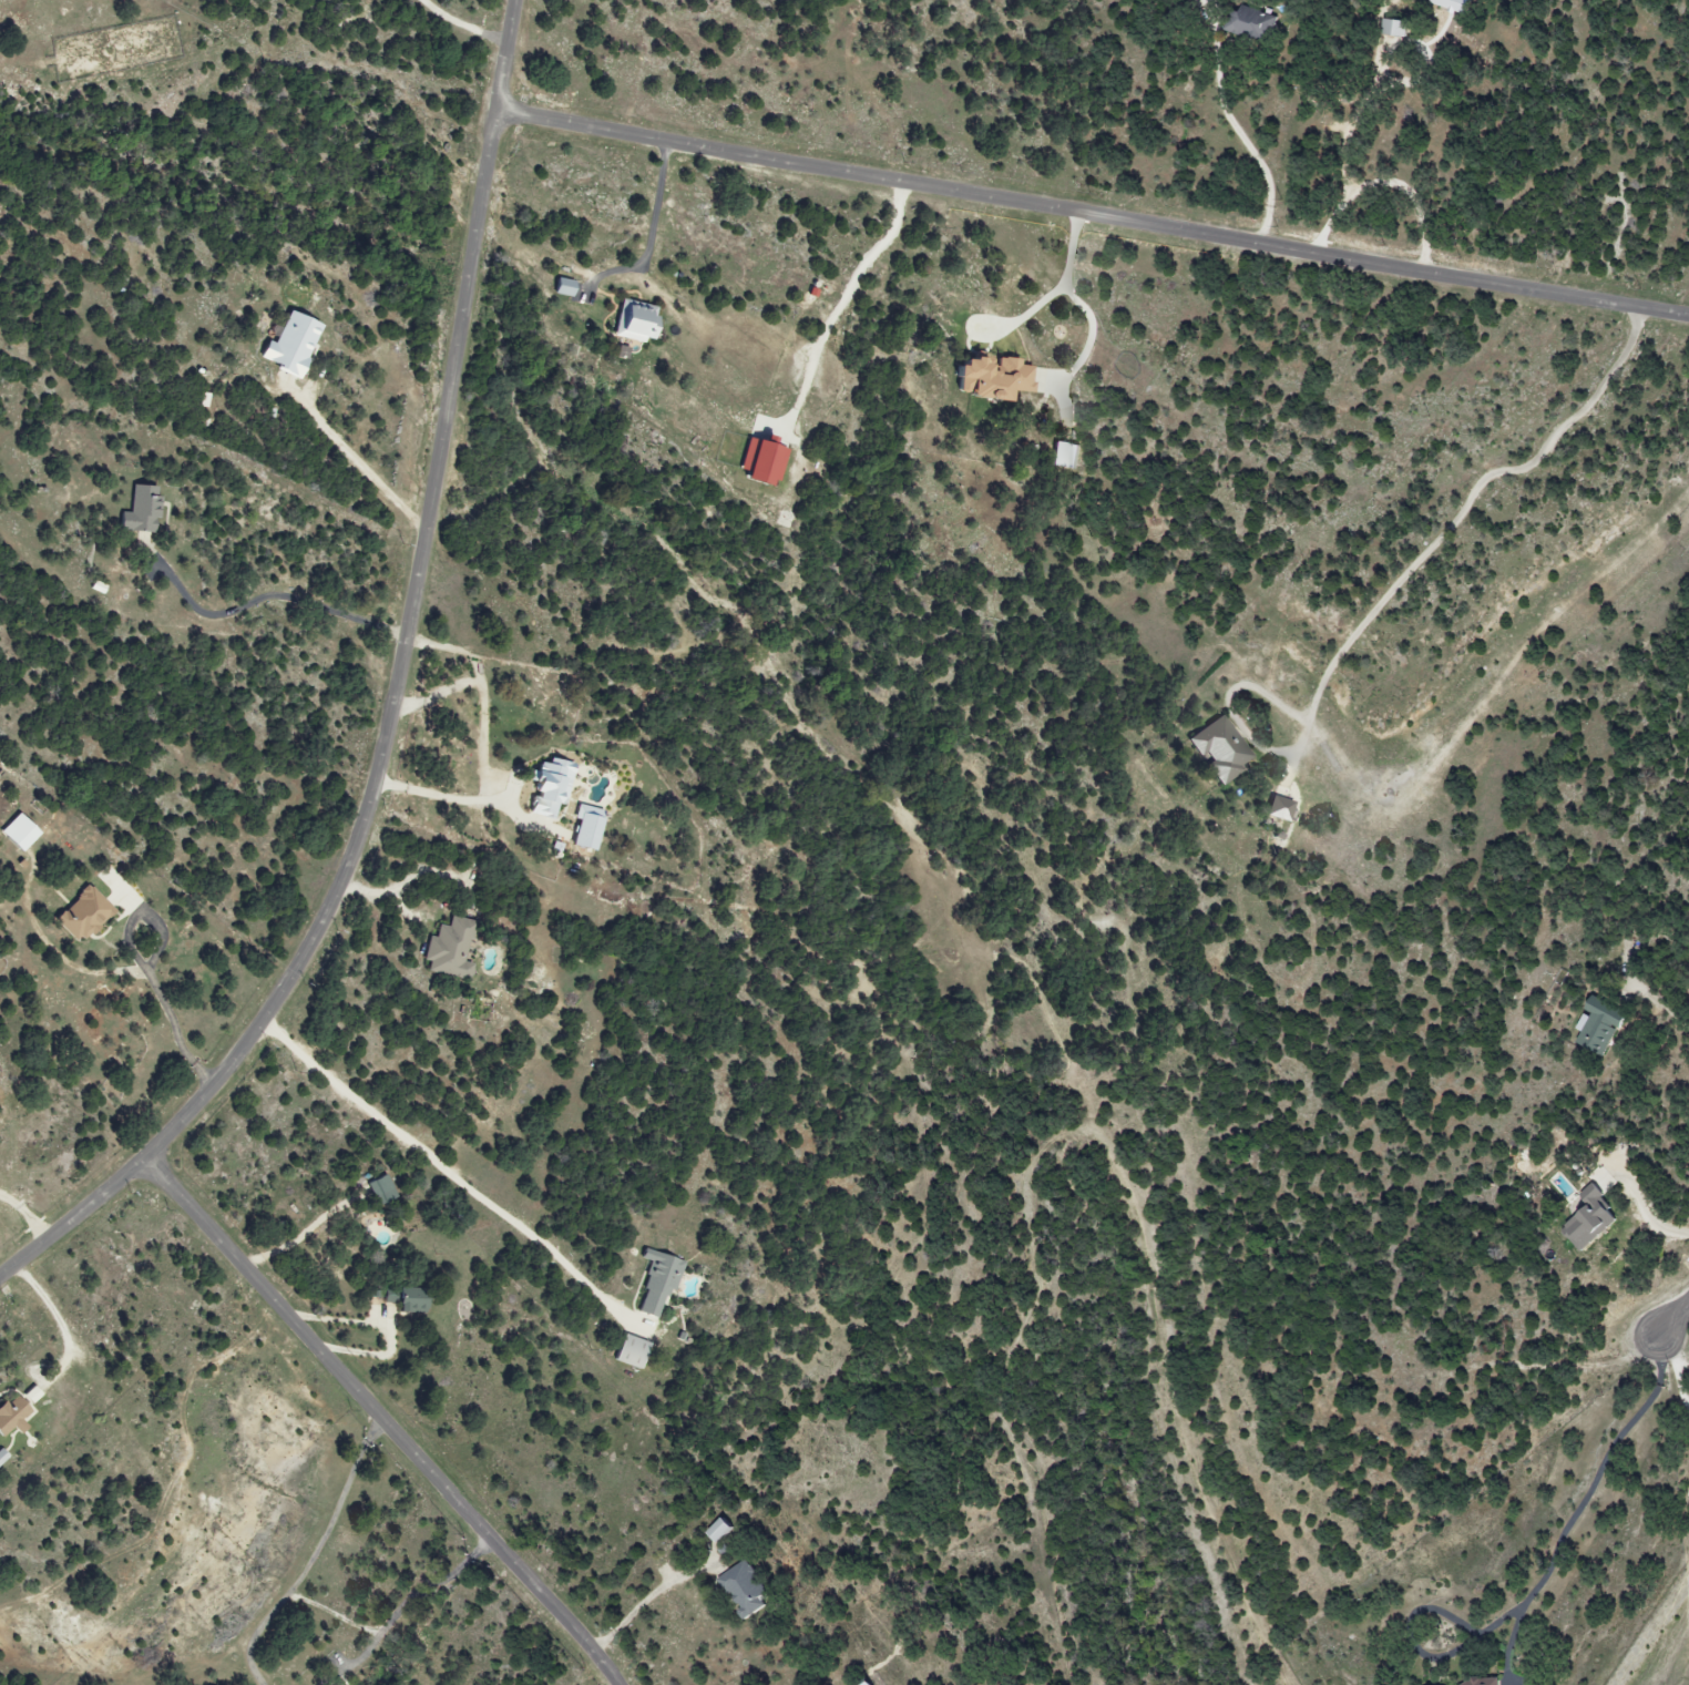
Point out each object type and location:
building: (1451, 4)
building: (1252, 23)
building: (1394, 28)
road: (1349, 132)
road: (1253, 146)
road: (1414, 194)
road: (1089, 216)
road: (647, 236)
building: (561, 287)
road: (847, 296)
road: (1084, 309)
road: (1024, 317)
building: (633, 321)
building: (288, 345)
building: (989, 378)
road: (354, 452)
building: (1063, 456)
building: (758, 462)
building: (140, 510)
road: (1394, 588)
road: (270, 593)
road: (392, 702)
road: (487, 744)
building: (1218, 749)
building: (547, 787)
building: (1277, 808)
building: (584, 828)
building: (17, 833)
road: (400, 881)
building: (81, 915)
building: (449, 949)
road: (141, 968)
road: (1661, 1005)
building: (1598, 1025)
road: (441, 1162)
building: (381, 1189)
road: (1647, 1204)
building: (1588, 1219)
building: (656, 1281)
road: (1672, 1317)
road: (60, 1323)
building: (627, 1351)
road: (1675, 1362)
building: (11, 1416)
road: (381, 1420)
building: (1, 1457)
road: (1583, 1504)
building: (718, 1530)
road: (307, 1553)
building: (744, 1589)
road: (644, 1603)
road: (398, 1604)
road: (1419, 1654)
building: (1483, 1682)
building: (866, 1683)

